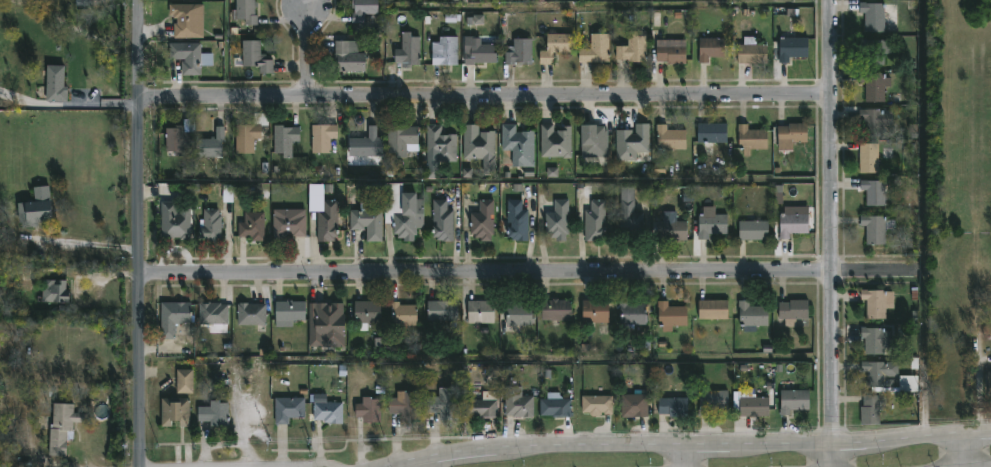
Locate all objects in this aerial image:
building: (86, 2)
building: (366, 9)
building: (247, 11)
building: (881, 17)
building: (185, 20)
building: (478, 20)
building: (557, 47)
building: (794, 48)
building: (597, 49)
building: (636, 49)
building: (710, 49)
road: (309, 50)
building: (409, 50)
building: (671, 51)
building: (448, 52)
building: (521, 52)
building: (752, 52)
building: (876, 53)
building: (481, 54)
building: (190, 57)
building: (253, 57)
building: (349, 57)
building: (56, 85)
building: (875, 88)
road: (485, 95)
building: (872, 121)
building: (713, 133)
building: (250, 134)
building: (792, 136)
building: (180, 137)
building: (750, 137)
building: (323, 138)
building: (671, 139)
building: (287, 140)
building: (403, 140)
building: (556, 142)
building: (595, 142)
building: (633, 143)
building: (366, 144)
building: (214, 145)
building: (519, 145)
building: (480, 147)
building: (440, 149)
building: (869, 158)
building: (659, 170)
building: (552, 172)
building: (584, 192)
building: (872, 192)
building: (227, 194)
building: (38, 209)
building: (403, 212)
building: (324, 214)
building: (630, 214)
building: (368, 221)
building: (443, 221)
building: (559, 221)
building: (175, 222)
building: (484, 222)
building: (518, 222)
building: (596, 222)
building: (709, 223)
building: (791, 223)
building: (211, 226)
building: (253, 227)
building: (289, 227)
building: (672, 228)
building: (874, 228)
building: (750, 231)
road: (140, 233)
road: (832, 233)
road: (86, 244)
road: (534, 272)
building: (56, 292)
building: (876, 303)
building: (557, 310)
building: (712, 310)
building: (793, 310)
building: (443, 312)
building: (289, 313)
building: (482, 313)
building: (596, 313)
building: (214, 314)
building: (252, 314)
building: (367, 314)
building: (519, 315)
building: (403, 316)
building: (633, 316)
building: (751, 316)
building: (671, 317)
building: (175, 318)
building: (327, 326)
building: (871, 340)
building: (878, 373)
building: (988, 381)
building: (186, 382)
building: (908, 383)
building: (795, 400)
building: (713, 401)
building: (518, 403)
building: (444, 405)
building: (598, 405)
building: (751, 405)
building: (482, 406)
building: (635, 406)
building: (407, 407)
building: (556, 407)
building: (675, 408)
building: (288, 409)
building: (328, 409)
building: (176, 410)
building: (370, 411)
building: (215, 412)
building: (869, 412)
building: (63, 427)
road: (689, 445)
road: (964, 450)
road: (681, 456)
road: (429, 462)
road: (235, 466)

